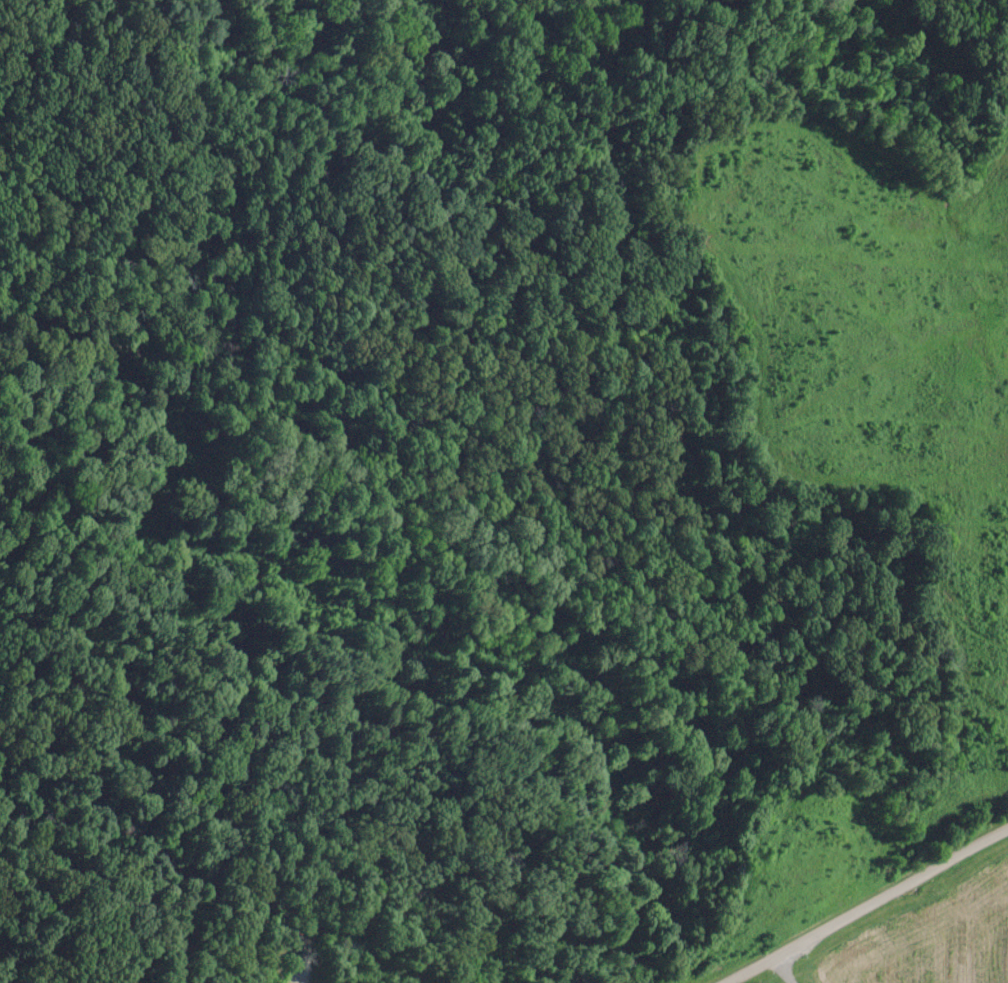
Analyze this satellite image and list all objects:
road: (864, 904)

